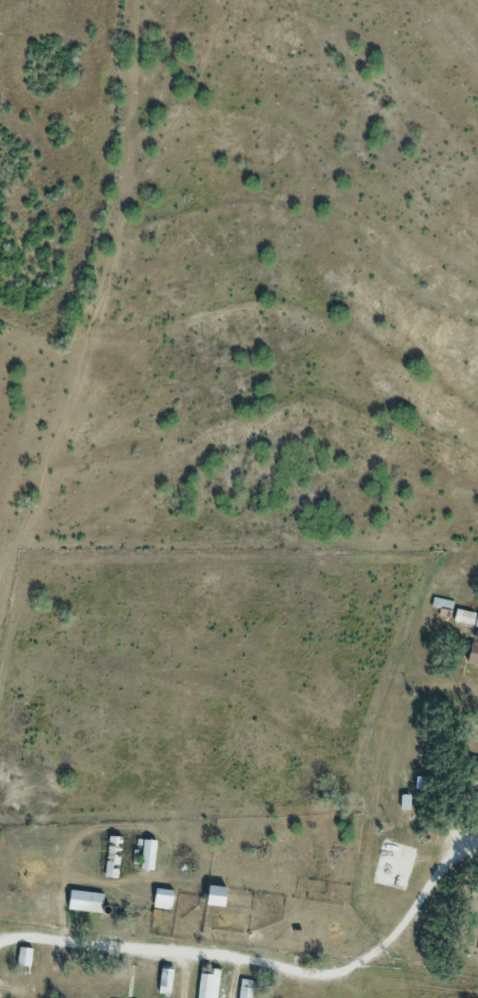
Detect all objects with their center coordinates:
building: (439, 601)
building: (465, 616)
building: (474, 651)
building: (147, 853)
building: (112, 855)
building: (216, 894)
building: (162, 898)
building: (85, 900)
road: (2, 939)
building: (21, 955)
road: (270, 966)
building: (164, 980)
building: (207, 984)
building: (247, 988)

